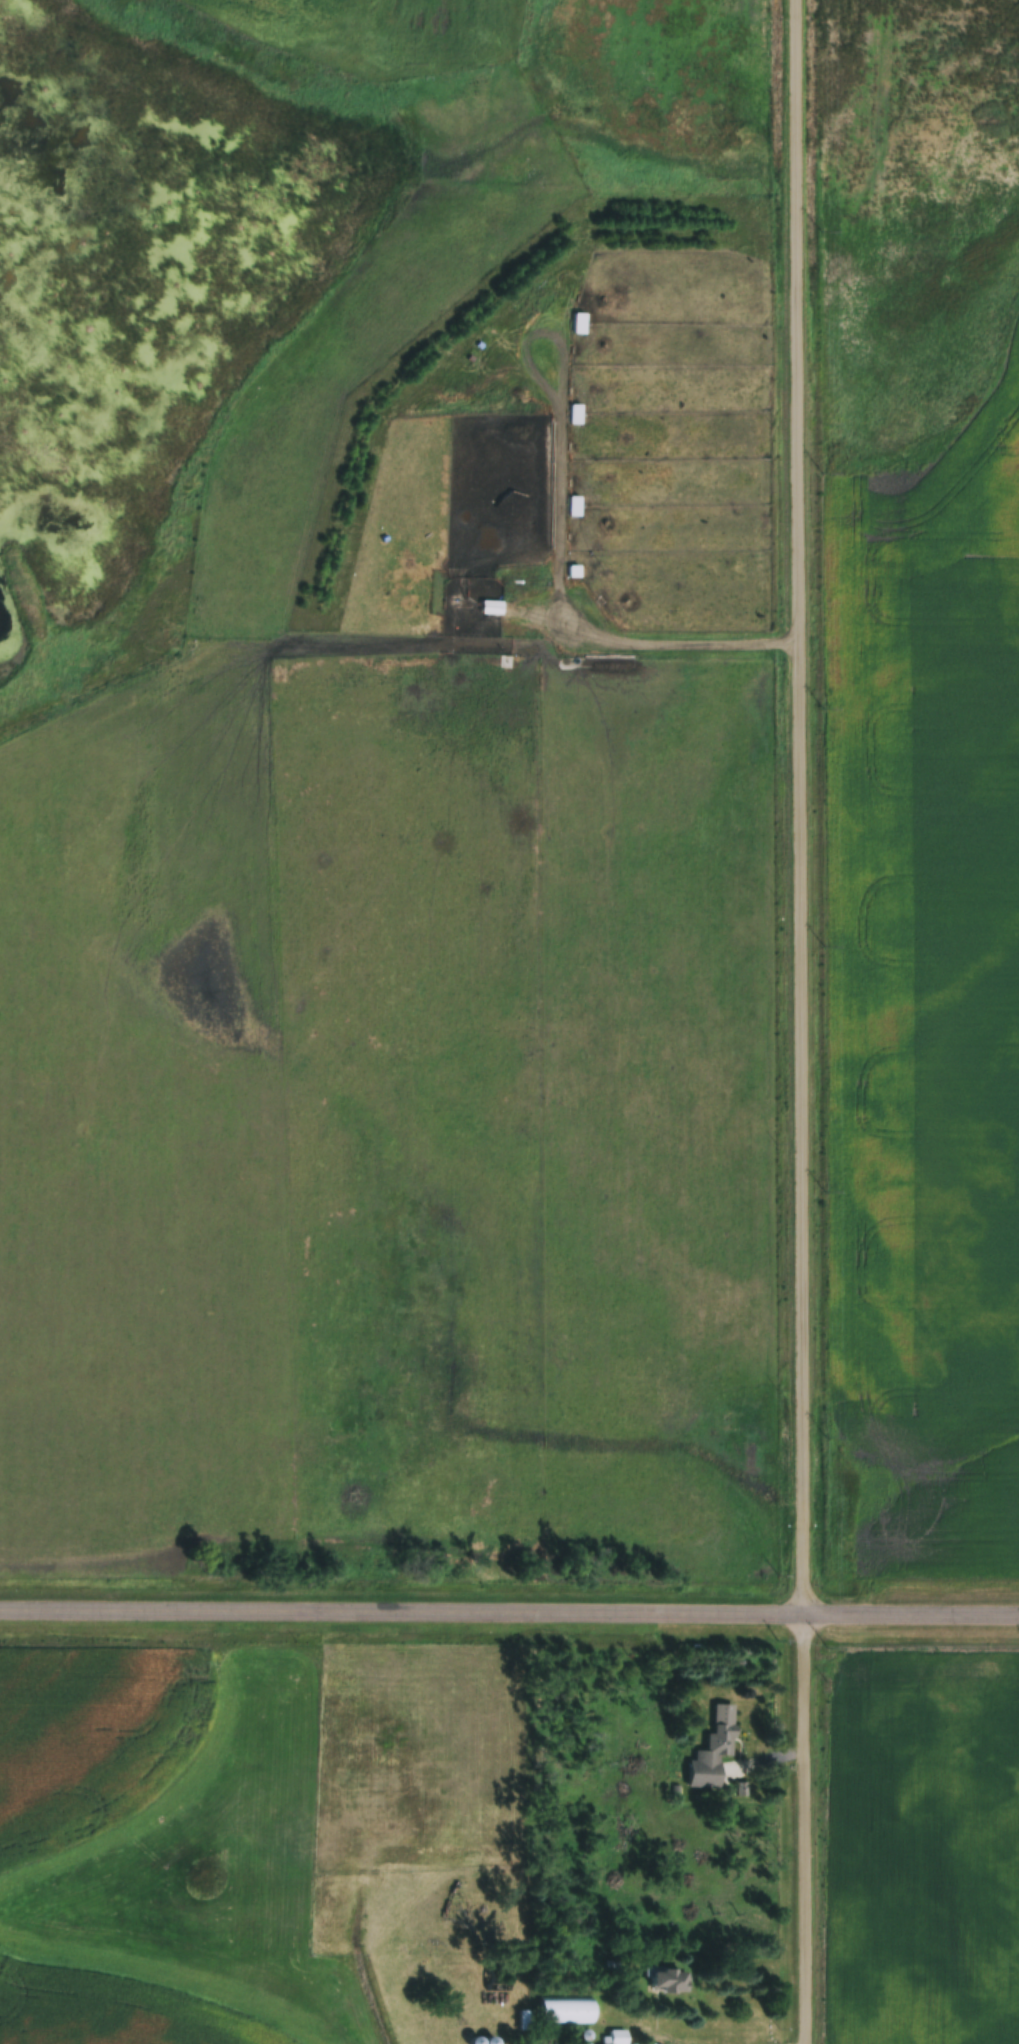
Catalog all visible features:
building: (575, 415)
building: (574, 507)
building: (491, 608)
road: (803, 808)
road: (403, 1615)
road: (913, 1617)
building: (713, 1750)
road: (807, 1830)
building: (669, 1982)
building: (567, 2012)
building: (615, 2037)

